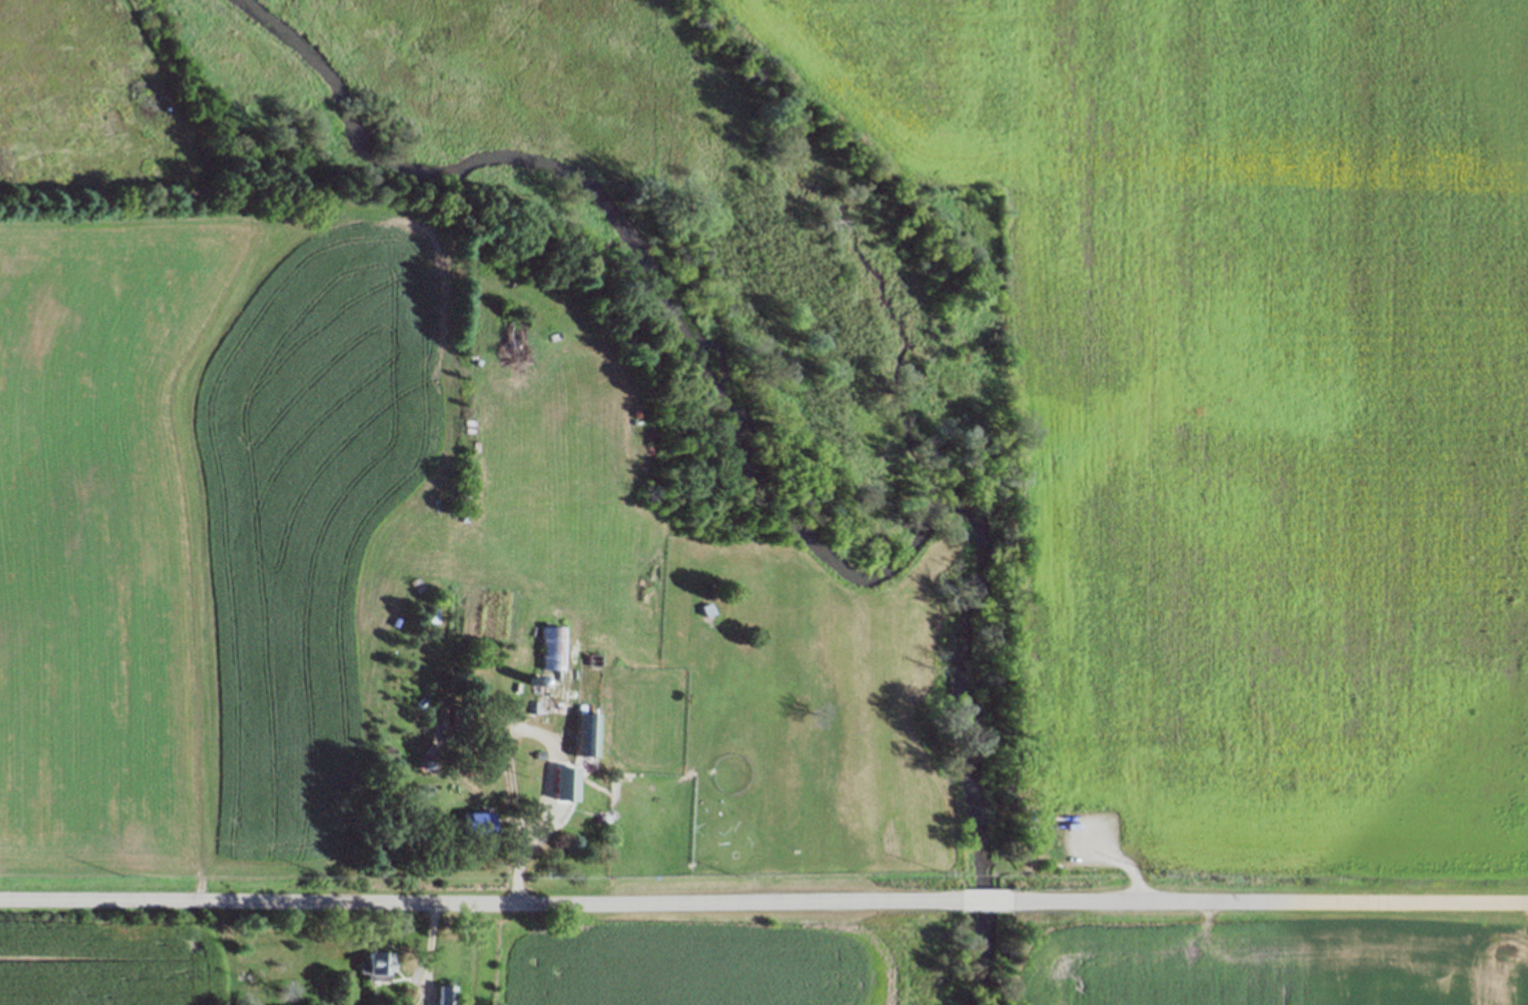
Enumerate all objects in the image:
river: (738, 482)
building: (706, 609)
building: (552, 649)
building: (593, 660)
building: (531, 708)
building: (458, 718)
building: (586, 737)
building: (538, 755)
building: (427, 766)
building: (567, 782)
building: (474, 823)
road: (527, 841)
road: (991, 901)
road: (1267, 901)
road: (487, 904)
road: (426, 954)
building: (374, 966)
crop: (1278, 967)
building: (441, 995)

